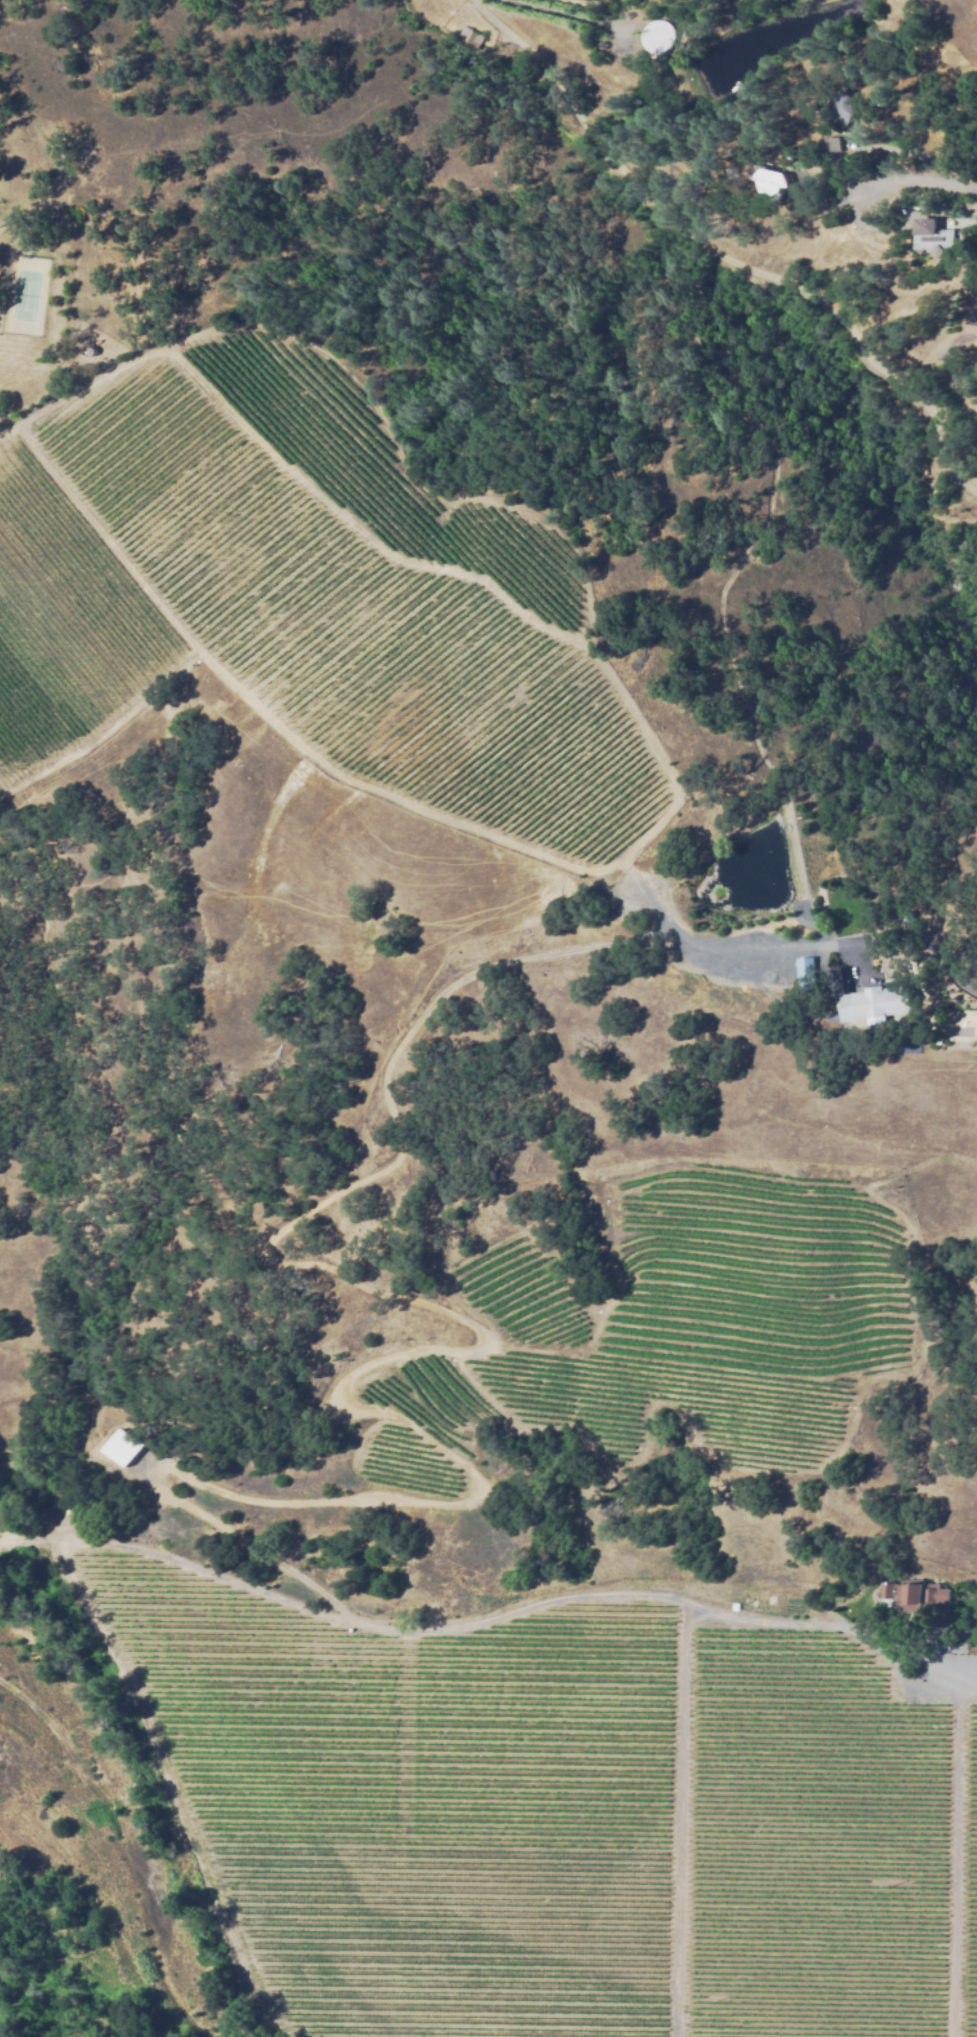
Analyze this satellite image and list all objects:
building: (656, 36)
building: (468, 38)
building: (842, 110)
building: (833, 145)
building: (818, 173)
building: (775, 182)
road: (909, 184)
building: (934, 237)
road: (719, 255)
building: (907, 917)
building: (803, 969)
building: (806, 983)
building: (877, 1004)
building: (121, 1449)
building: (917, 1596)

